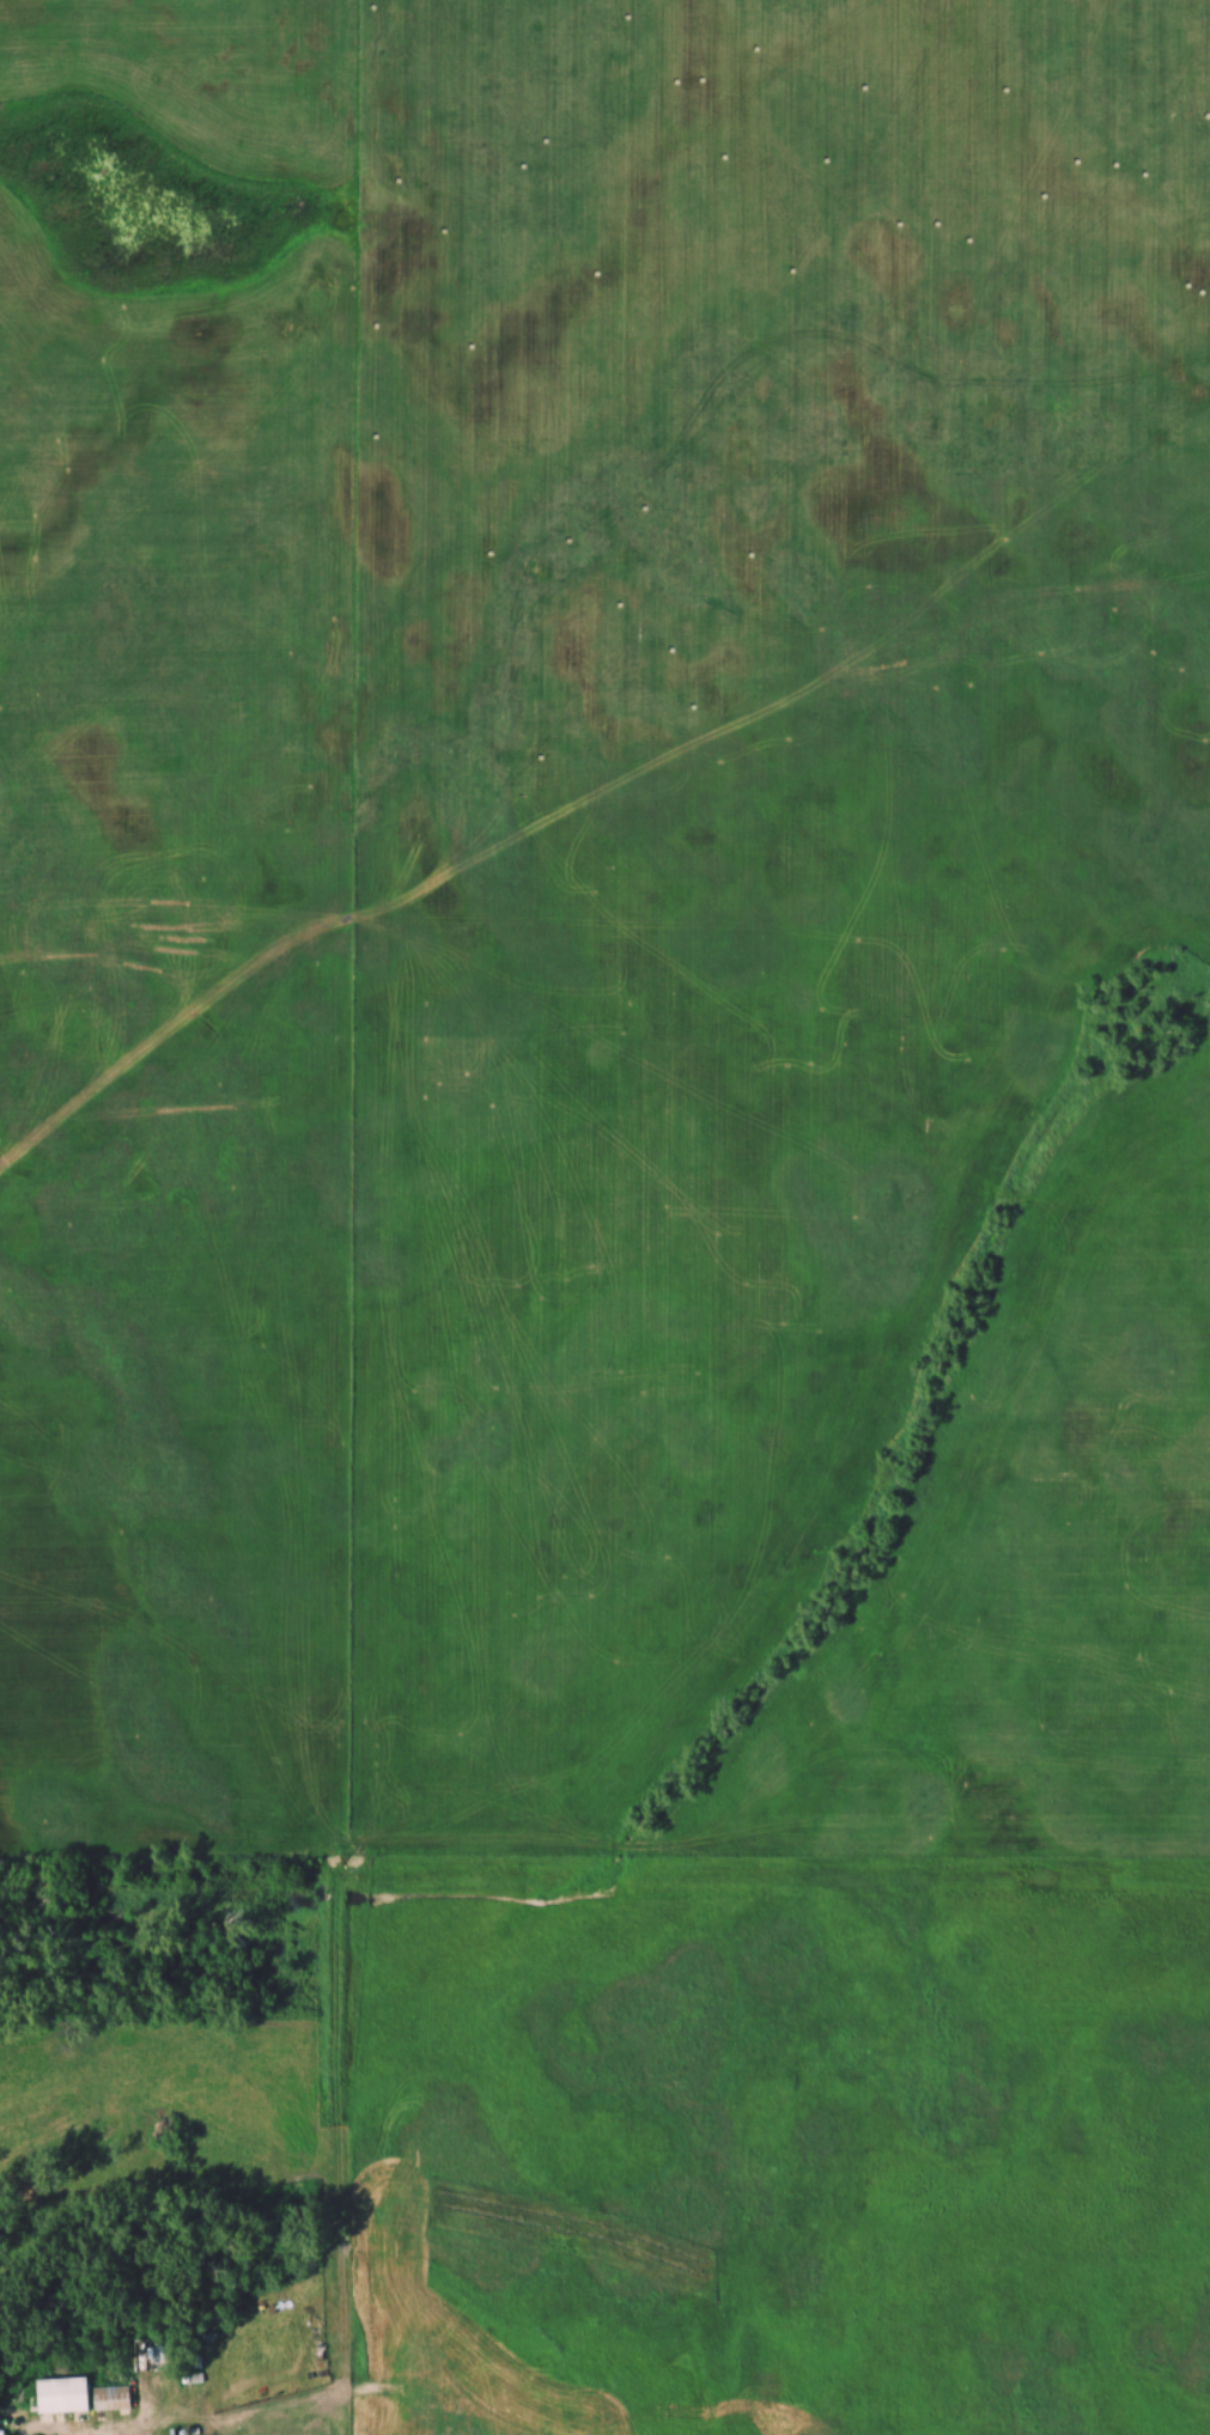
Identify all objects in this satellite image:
building: (62, 2398)
building: (111, 2400)

